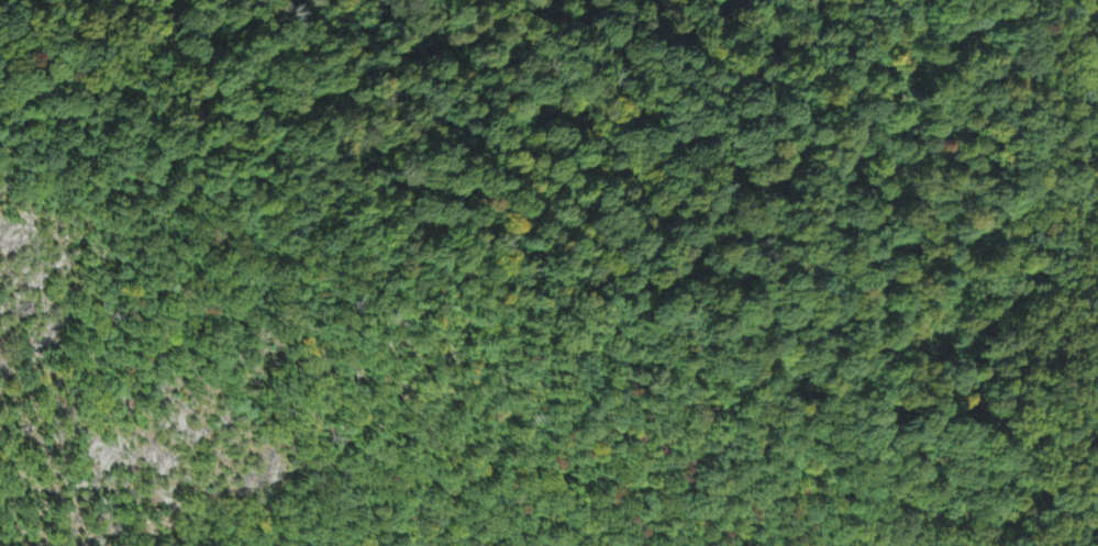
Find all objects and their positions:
road: (912, 471)

